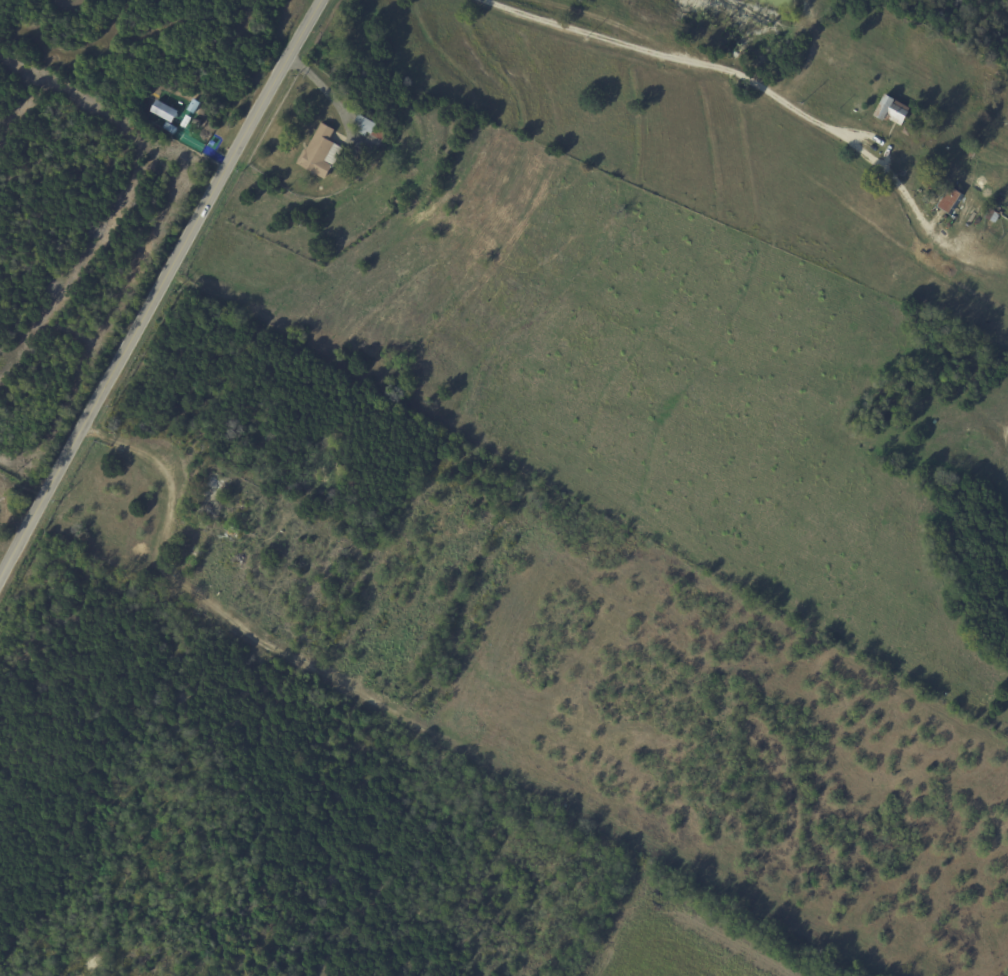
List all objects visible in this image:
road: (675, 57)
building: (348, 102)
building: (193, 105)
building: (164, 110)
building: (894, 111)
building: (185, 121)
building: (169, 127)
building: (908, 132)
building: (373, 133)
building: (974, 150)
building: (322, 153)
building: (445, 170)
building: (936, 172)
building: (901, 173)
building: (929, 184)
building: (427, 193)
building: (948, 200)
building: (411, 205)
building: (452, 205)
building: (994, 216)
road: (166, 295)
building: (233, 534)
building: (186, 558)
crop: (674, 951)

